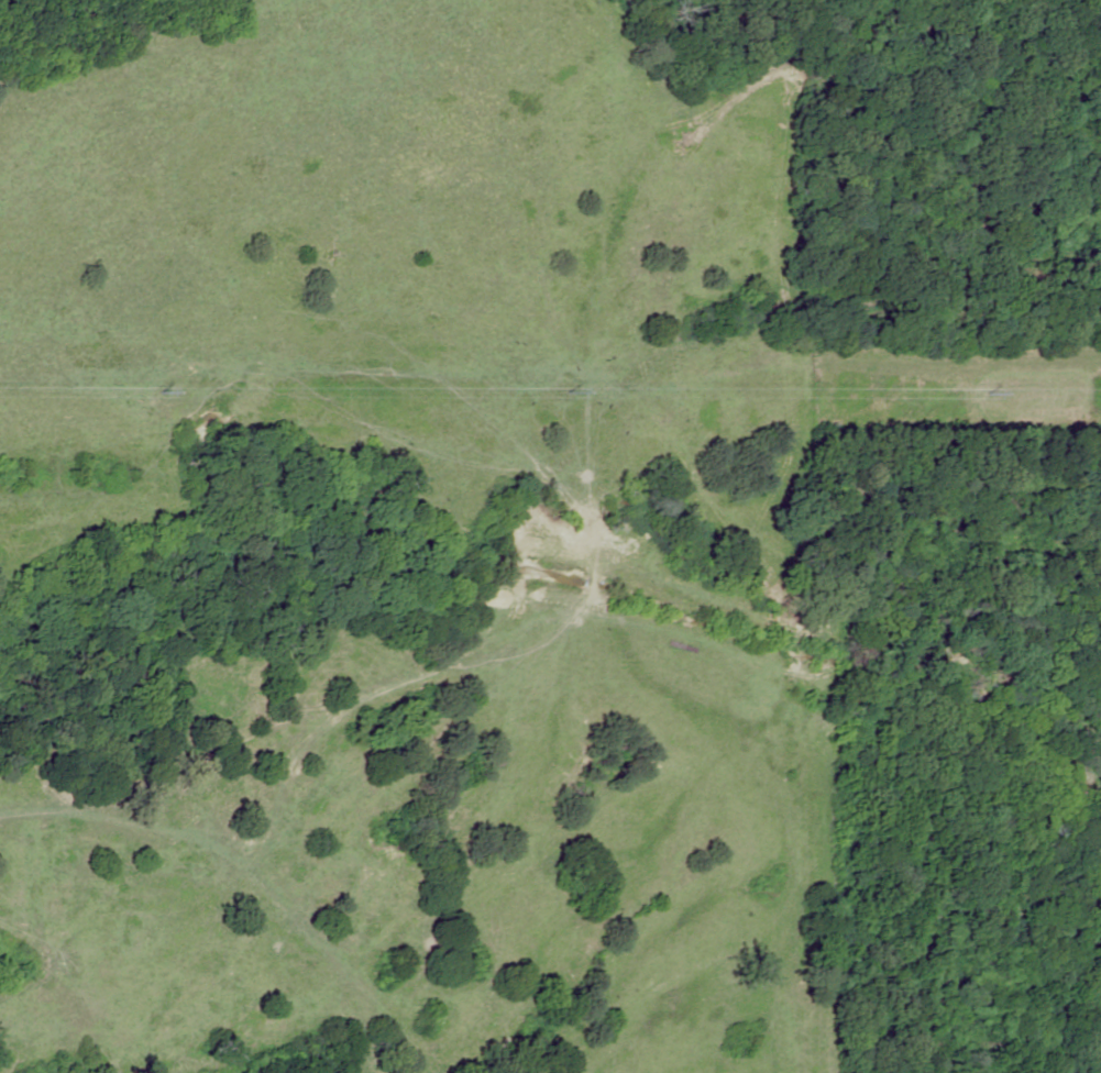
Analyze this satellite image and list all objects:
power tower: (163, 392)
power tower: (573, 394)
power tower: (991, 394)

